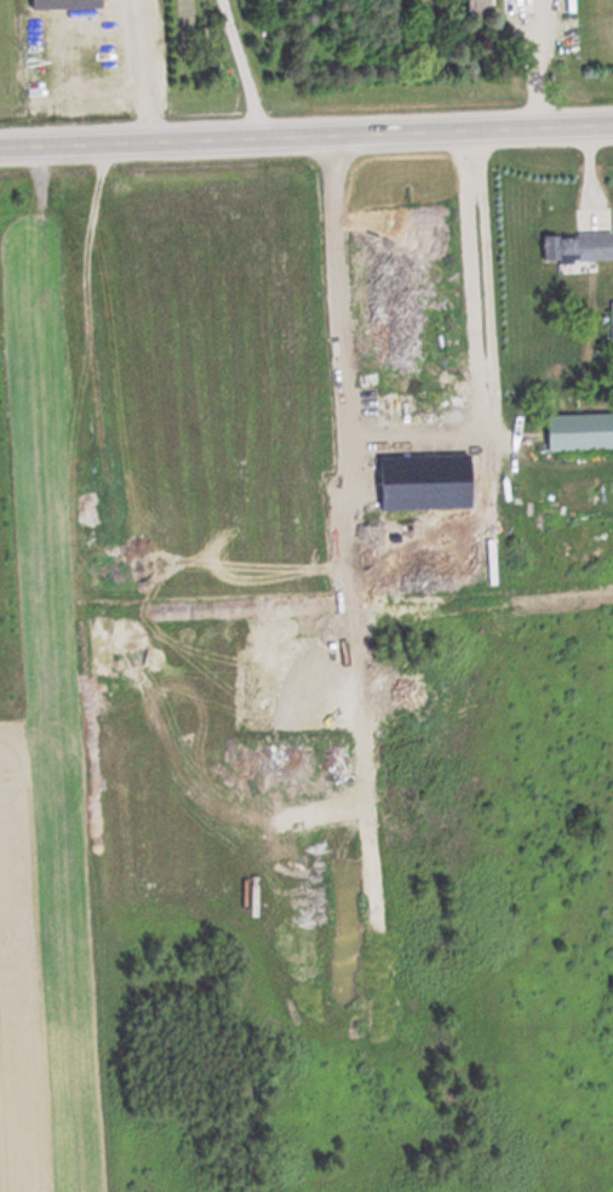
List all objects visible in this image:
building: (71, 5)
building: (483, 6)
road: (306, 133)
building: (582, 250)
building: (583, 432)
crop: (45, 960)

